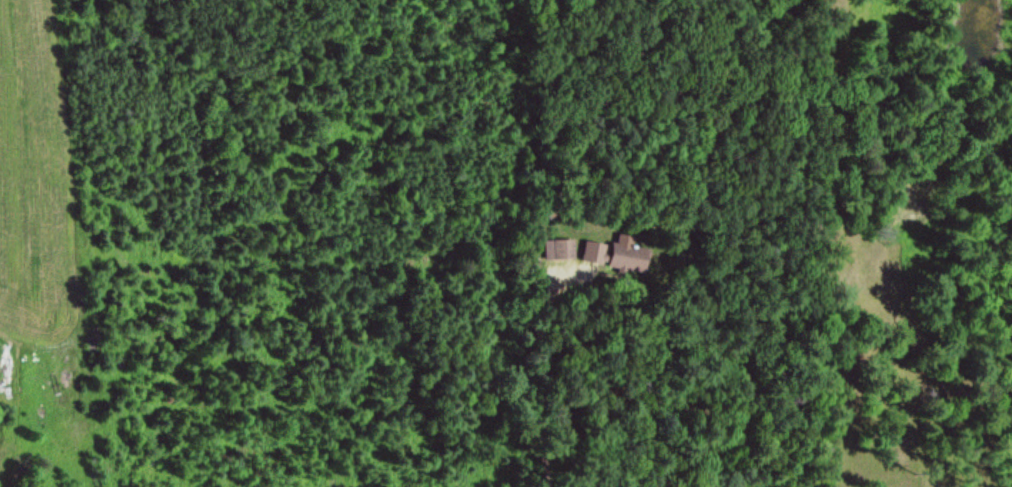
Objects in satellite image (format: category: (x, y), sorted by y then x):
building: (559, 249)
building: (616, 256)

